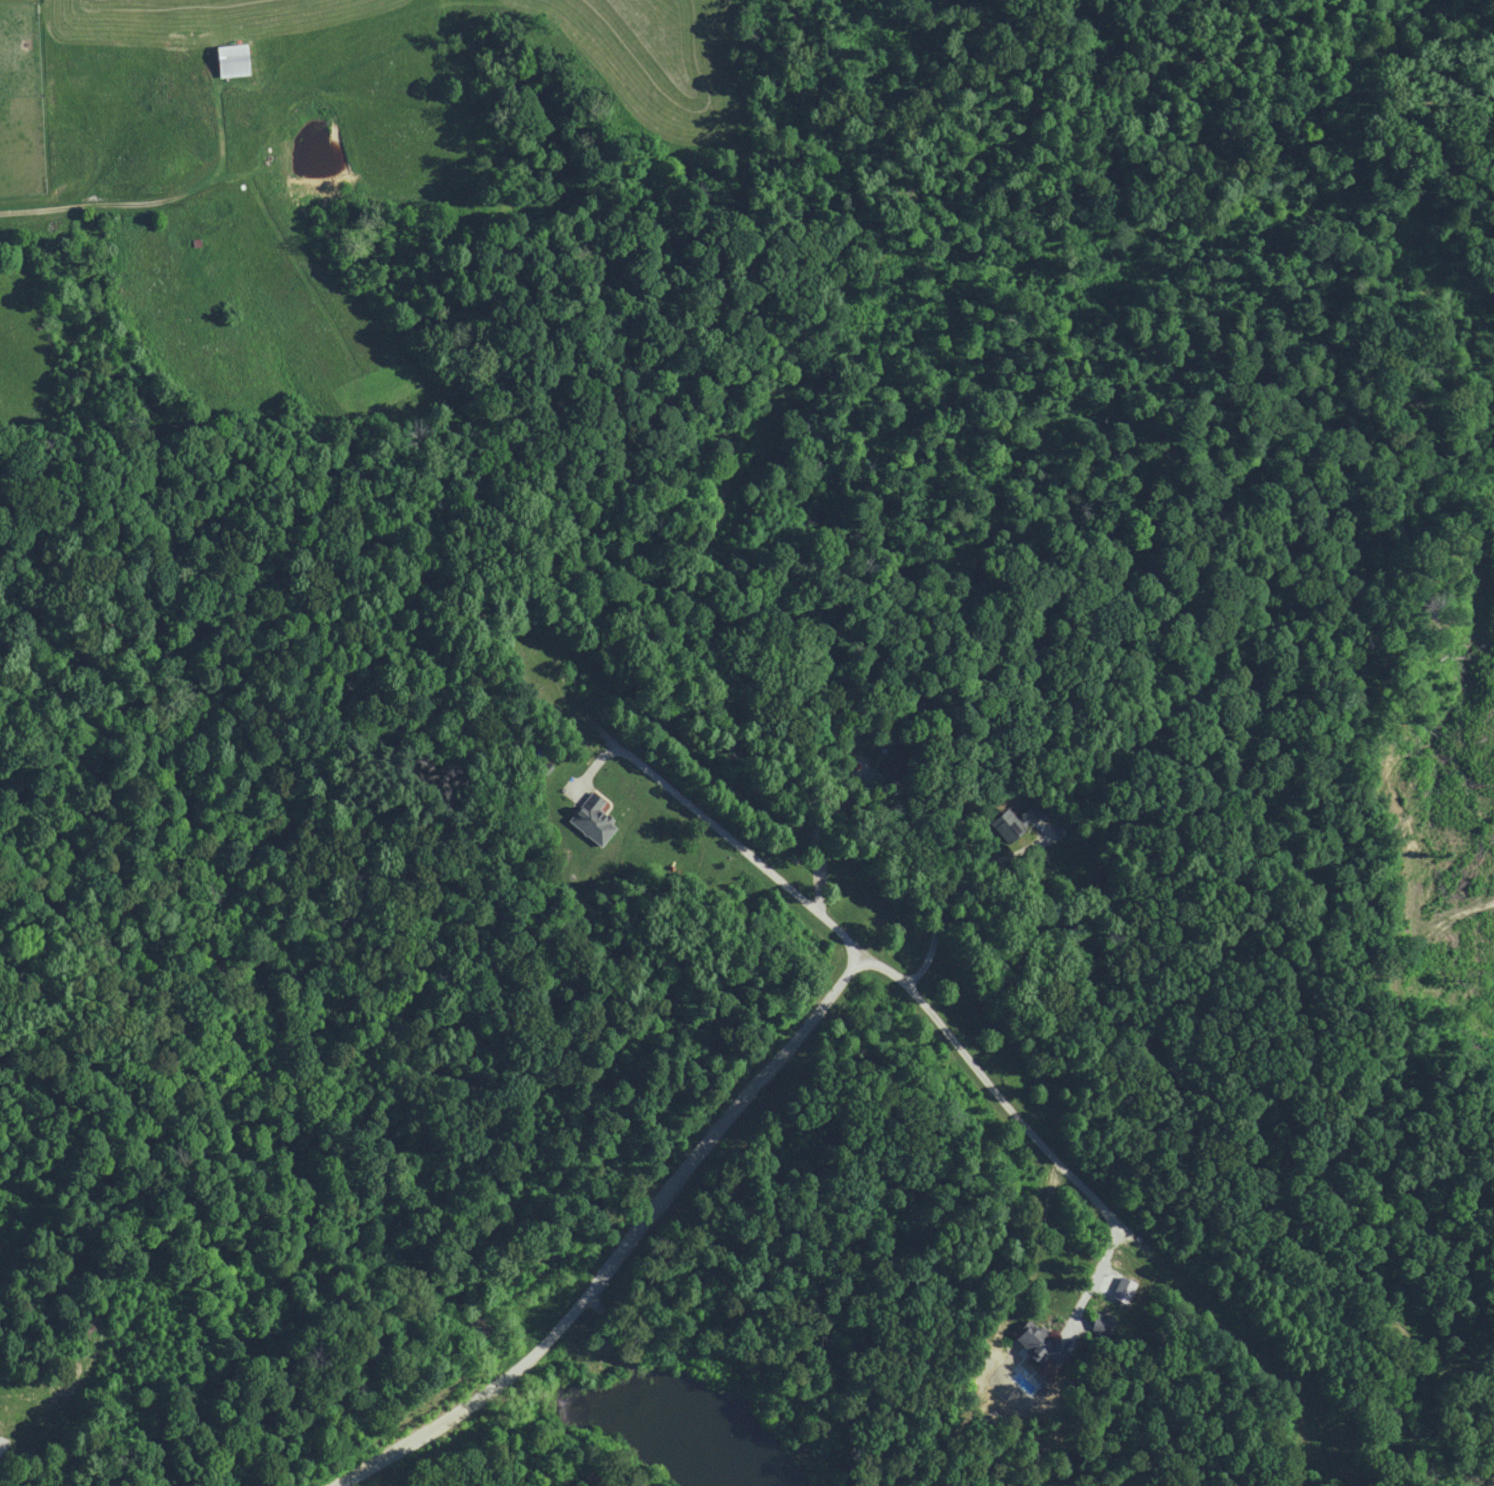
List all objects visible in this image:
building: (228, 59)
road: (119, 205)
building: (589, 820)
building: (1011, 822)
road: (813, 832)
road: (946, 884)
road: (941, 1022)
road: (694, 1155)
road: (1096, 1269)
building: (1120, 1290)
building: (1099, 1322)
building: (1036, 1345)
road: (435, 1426)

